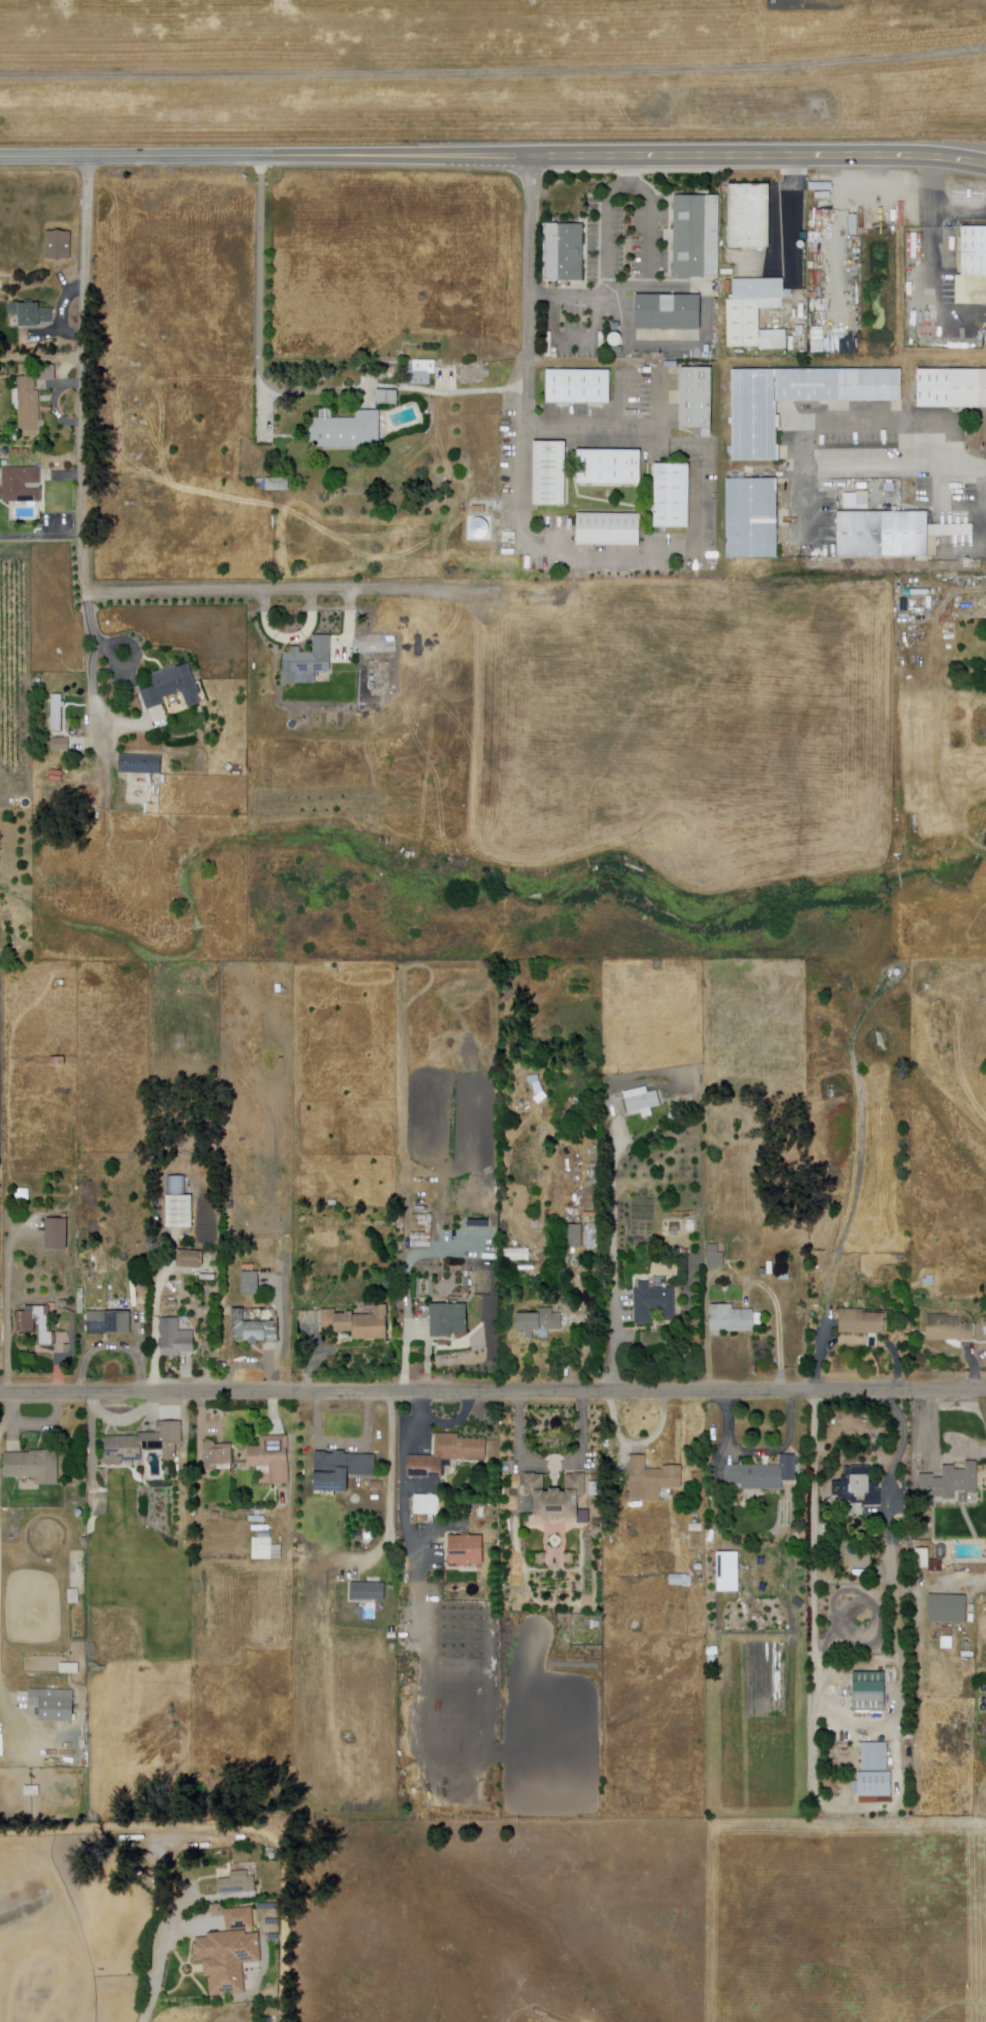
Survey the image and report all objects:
airport: (489, 68)
road: (493, 70)
road: (493, 156)
building: (749, 216)
building: (697, 237)
building: (58, 245)
building: (950, 248)
building: (565, 252)
building: (973, 267)
road: (529, 289)
building: (668, 312)
building: (30, 314)
building: (754, 314)
road: (260, 318)
building: (927, 332)
building: (985, 336)
building: (613, 341)
building: (819, 342)
building: (428, 372)
building: (798, 385)
building: (838, 385)
building: (880, 385)
building: (578, 387)
building: (952, 388)
building: (387, 398)
building: (697, 400)
building: (28, 403)
building: (755, 415)
road: (844, 419)
building: (346, 430)
road: (86, 455)
road: (878, 465)
road: (968, 465)
building: (609, 467)
building: (550, 473)
building: (20, 484)
building: (277, 484)
building: (672, 496)
building: (752, 498)
building: (610, 530)
building: (861, 534)
building: (906, 534)
building: (752, 537)
road: (292, 588)
road: (135, 658)
building: (307, 660)
building: (172, 687)
building: (54, 718)
road: (124, 723)
crop: (691, 731)
road: (91, 741)
building: (56, 747)
building: (140, 763)
building: (898, 973)
building: (984, 974)
storage tank: (61, 983)
building: (928, 988)
building: (284, 990)
building: (641, 1101)
building: (179, 1212)
building: (400, 1222)
building: (491, 1226)
building: (691, 1226)
building: (423, 1234)
building: (56, 1235)
building: (588, 1236)
building: (572, 1237)
road: (613, 1245)
building: (517, 1254)
building: (715, 1258)
building: (196, 1264)
building: (250, 1284)
building: (81, 1301)
building: (654, 1303)
building: (731, 1319)
building: (448, 1320)
building: (863, 1322)
building: (109, 1323)
building: (357, 1323)
building: (538, 1323)
building: (985, 1325)
building: (35, 1326)
building: (256, 1326)
building: (948, 1329)
building: (174, 1337)
road: (493, 1391)
building: (144, 1444)
building: (13, 1446)
building: (217, 1456)
building: (445, 1456)
building: (272, 1458)
building: (33, 1465)
building: (342, 1470)
building: (764, 1474)
building: (651, 1480)
building: (951, 1484)
building: (858, 1487)
building: (558, 1498)
building: (427, 1505)
building: (266, 1549)
building: (466, 1550)
building: (923, 1558)
building: (730, 1572)
building: (677, 1580)
road: (960, 1581)
road: (814, 1588)
building: (368, 1591)
building: (949, 1609)
building: (872, 1692)
road: (4, 1703)
building: (53, 1704)
building: (875, 1775)
building: (237, 1884)
building: (241, 1916)
building: (227, 1960)
road: (161, 1976)
storage tank: (268, 2019)

